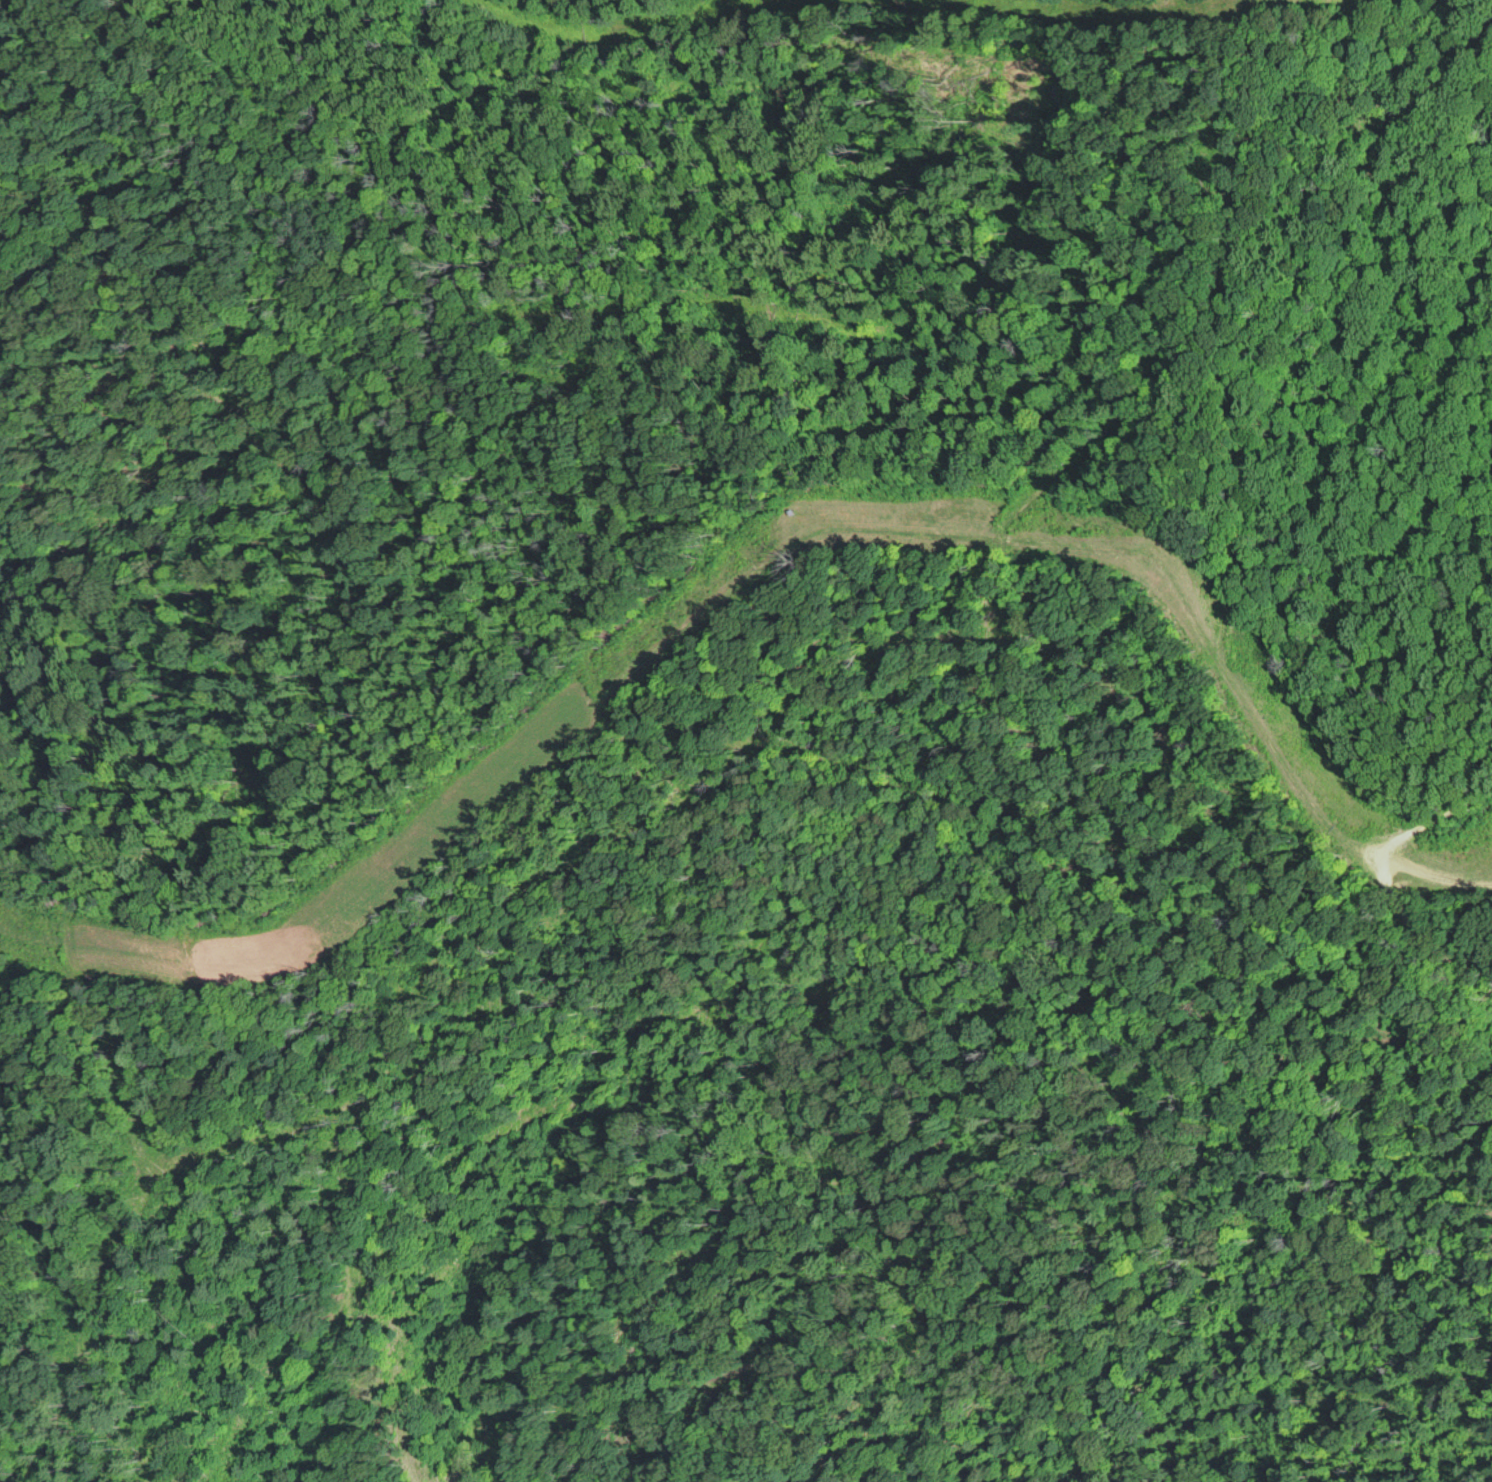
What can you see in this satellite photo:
road: (1367, 937)

